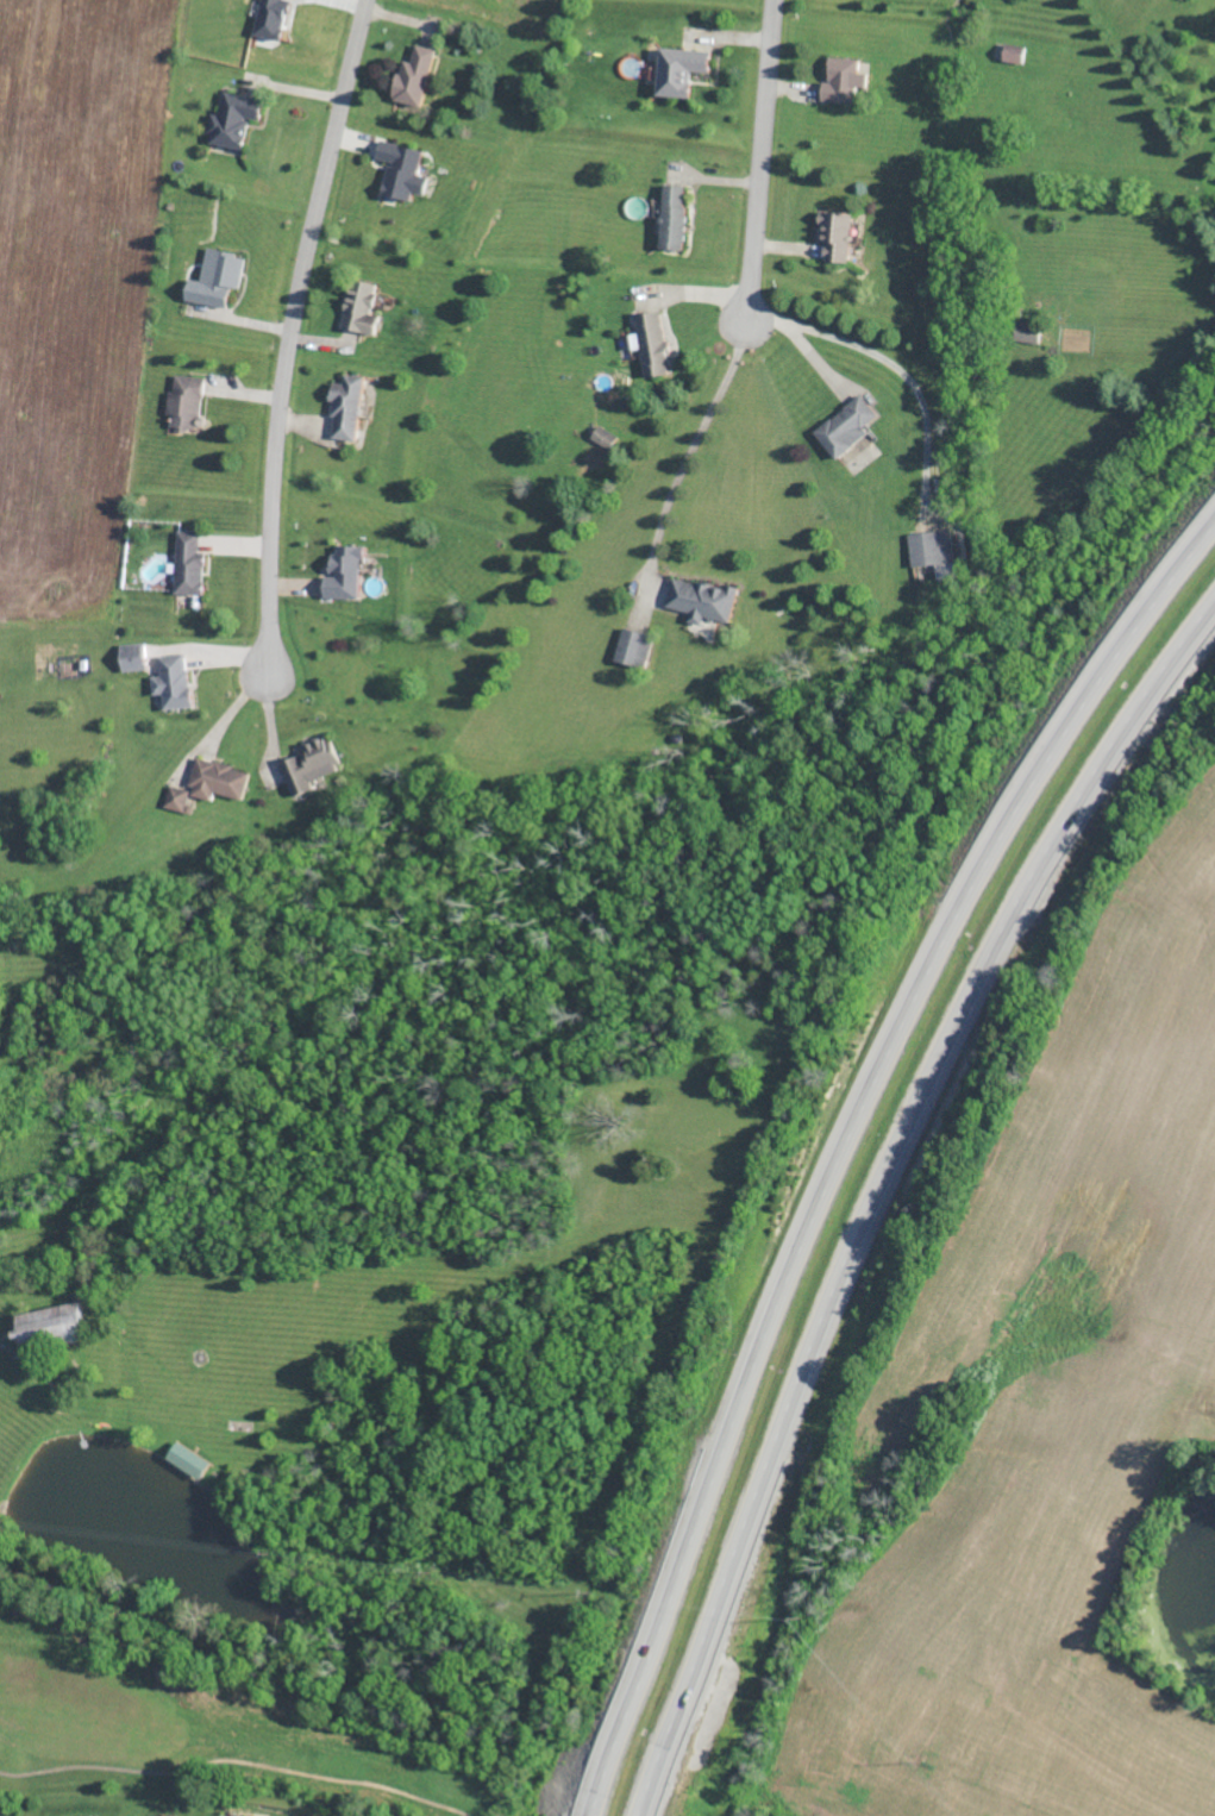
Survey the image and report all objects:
building: (273, 18)
building: (1015, 52)
building: (681, 69)
building: (415, 75)
building: (841, 79)
building: (234, 118)
road: (760, 159)
building: (402, 169)
building: (674, 215)
building: (838, 234)
building: (218, 277)
building: (361, 306)
road: (289, 327)
building: (1028, 331)
building: (652, 342)
road: (800, 346)
road: (908, 376)
building: (187, 401)
building: (347, 407)
building: (847, 425)
building: (606, 436)
road: (688, 452)
building: (190, 563)
building: (345, 571)
building: (703, 599)
building: (634, 646)
building: (133, 656)
building: (174, 681)
building: (309, 765)
building: (218, 779)
building: (177, 797)
road: (841, 1136)
road: (878, 1185)
building: (51, 1326)
road: (2, 1348)
building: (188, 1459)
building: (144, 1815)
building: (244, 1815)

